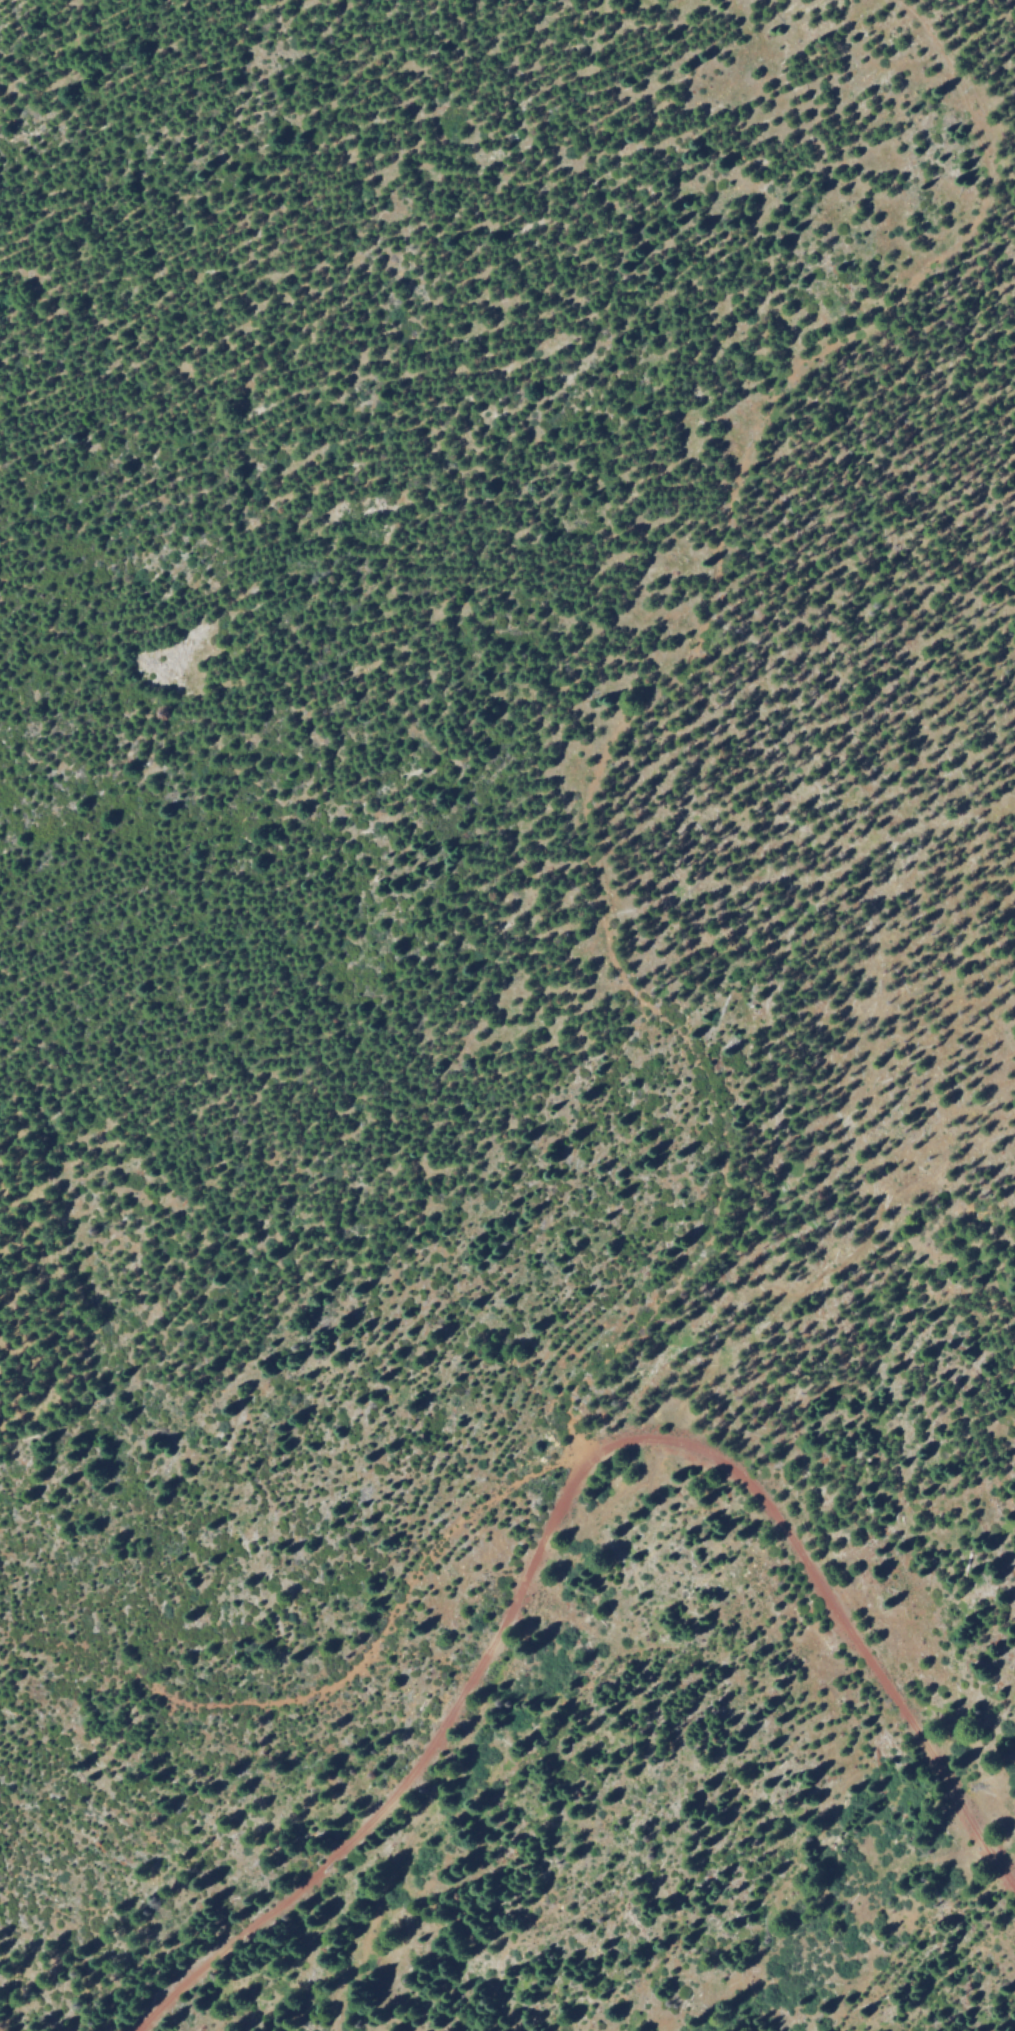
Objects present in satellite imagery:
road: (841, 1617)
road: (407, 1772)

